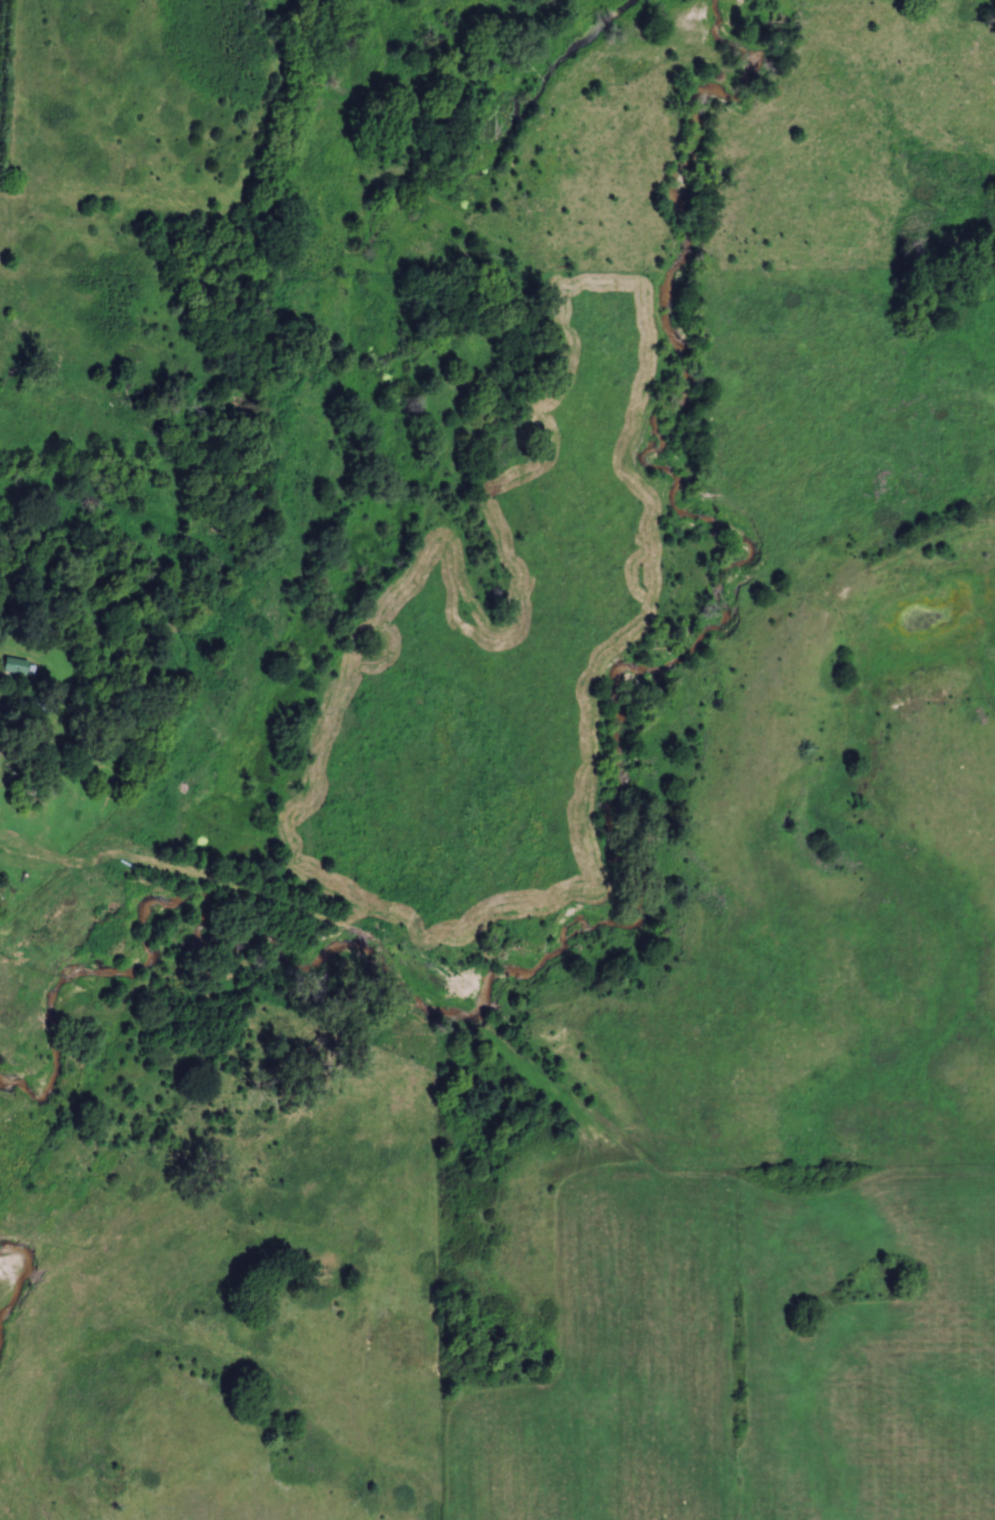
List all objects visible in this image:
road: (179, 876)
building: (0, 884)

